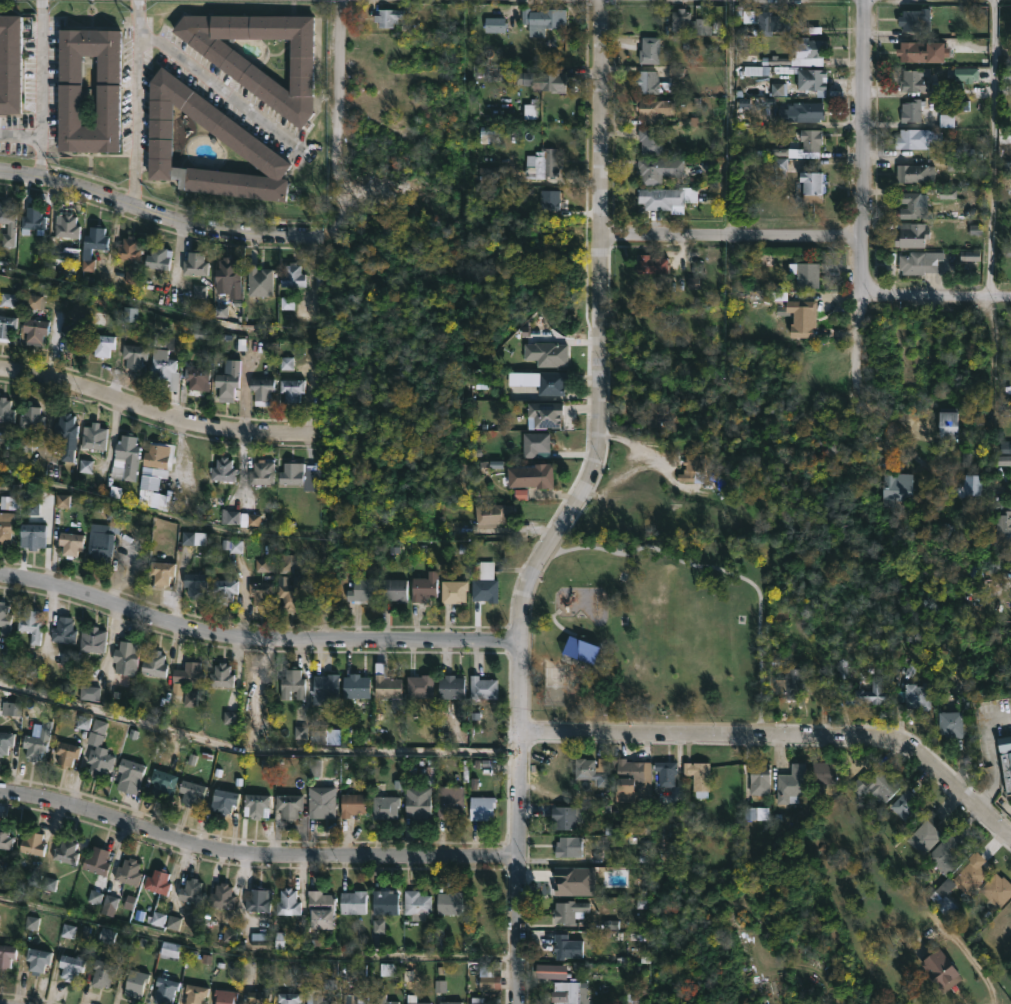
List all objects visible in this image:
building: (391, 14)
building: (544, 17)
building: (915, 18)
building: (683, 19)
building: (771, 21)
building: (495, 26)
building: (649, 50)
building: (924, 51)
building: (802, 54)
building: (11, 62)
building: (495, 69)
road: (337, 73)
building: (254, 78)
building: (545, 79)
building: (647, 81)
building: (812, 81)
building: (928, 82)
road: (217, 85)
road: (40, 88)
building: (68, 89)
road: (135, 104)
building: (654, 109)
building: (914, 109)
building: (802, 111)
road: (733, 116)
building: (231, 134)
building: (490, 135)
road: (20, 136)
building: (916, 137)
building: (651, 140)
building: (808, 142)
road: (995, 148)
building: (543, 163)
building: (659, 169)
building: (915, 172)
building: (491, 175)
building: (813, 185)
road: (861, 196)
building: (660, 197)
building: (549, 199)
building: (912, 205)
road: (158, 216)
building: (33, 218)
building: (7, 223)
building: (65, 225)
road: (730, 232)
building: (912, 234)
building: (92, 245)
building: (129, 248)
building: (158, 257)
building: (920, 262)
building: (195, 263)
building: (652, 264)
building: (227, 271)
building: (805, 274)
building: (292, 275)
building: (258, 280)
road: (937, 297)
road: (158, 313)
building: (802, 316)
building: (6, 326)
road: (601, 330)
building: (34, 331)
building: (71, 335)
building: (102, 344)
building: (546, 353)
building: (133, 354)
building: (163, 363)
building: (197, 377)
building: (227, 381)
building: (551, 382)
building: (292, 388)
building: (261, 390)
building: (5, 410)
road: (155, 412)
building: (545, 413)
building: (659, 416)
building: (30, 417)
building: (949, 426)
building: (68, 434)
road: (895, 435)
building: (94, 437)
building: (535, 443)
building: (158, 455)
building: (125, 457)
building: (691, 464)
building: (222, 470)
building: (261, 472)
building: (1010, 473)
building: (301, 474)
building: (532, 475)
building: (150, 480)
building: (973, 484)
building: (898, 487)
building: (166, 503)
building: (493, 515)
building: (633, 515)
building: (1004, 523)
building: (8, 526)
building: (31, 534)
road: (274, 534)
building: (103, 535)
building: (69, 543)
building: (288, 563)
building: (161, 572)
building: (971, 574)
building: (485, 581)
building: (195, 584)
building: (362, 588)
building: (425, 588)
building: (394, 589)
building: (225, 590)
building: (454, 591)
building: (291, 592)
building: (259, 593)
park: (651, 614)
building: (4, 619)
building: (30, 625)
building: (62, 633)
building: (92, 639)
road: (256, 639)
building: (584, 652)
building: (125, 660)
building: (154, 663)
building: (188, 673)
building: (220, 675)
building: (791, 680)
building: (292, 683)
building: (386, 683)
building: (420, 685)
building: (356, 686)
building: (452, 686)
building: (260, 687)
building: (325, 687)
building: (483, 687)
building: (867, 694)
building: (917, 696)
building: (13, 710)
building: (951, 724)
building: (326, 736)
road: (782, 738)
building: (6, 741)
building: (38, 742)
building: (98, 751)
road: (255, 751)
building: (66, 753)
road: (993, 753)
building: (1006, 761)
building: (593, 770)
building: (666, 772)
building: (824, 773)
building: (130, 774)
building: (761, 775)
building: (699, 776)
building: (628, 778)
building: (160, 779)
building: (792, 782)
building: (877, 786)
building: (191, 789)
building: (224, 799)
building: (450, 802)
building: (255, 803)
building: (418, 803)
building: (320, 804)
building: (353, 804)
building: (288, 805)
building: (386, 806)
building: (908, 806)
building: (481, 807)
building: (565, 816)
road: (519, 823)
building: (926, 832)
building: (5, 836)
building: (32, 841)
building: (567, 845)
building: (66, 849)
building: (946, 853)
road: (255, 854)
building: (95, 860)
building: (128, 870)
building: (964, 877)
building: (158, 881)
building: (997, 889)
building: (191, 890)
building: (221, 895)
building: (258, 898)
building: (288, 901)
building: (353, 901)
building: (482, 901)
building: (385, 902)
building: (450, 902)
building: (417, 904)
building: (320, 908)
building: (568, 910)
building: (566, 945)
building: (171, 950)
building: (6, 953)
road: (256, 954)
building: (37, 958)
road: (973, 960)
building: (70, 966)
building: (939, 966)
building: (102, 972)
building: (489, 977)
building: (134, 982)
building: (164, 989)
building: (567, 992)
building: (194, 993)
building: (636, 993)
building: (224, 996)
building: (288, 996)
building: (258, 997)
building: (316, 997)
building: (355, 998)
building: (384, 999)
building: (478, 1000)
building: (814, 1000)
building: (417, 1002)
building: (449, 1002)

